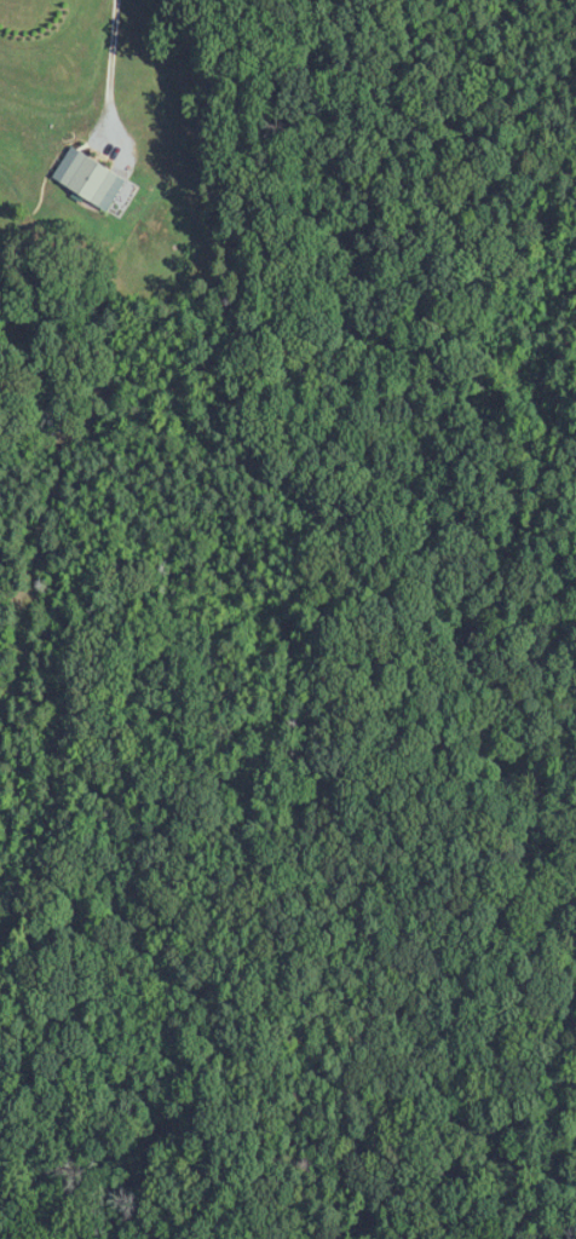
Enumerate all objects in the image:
road: (116, 65)
building: (94, 181)

